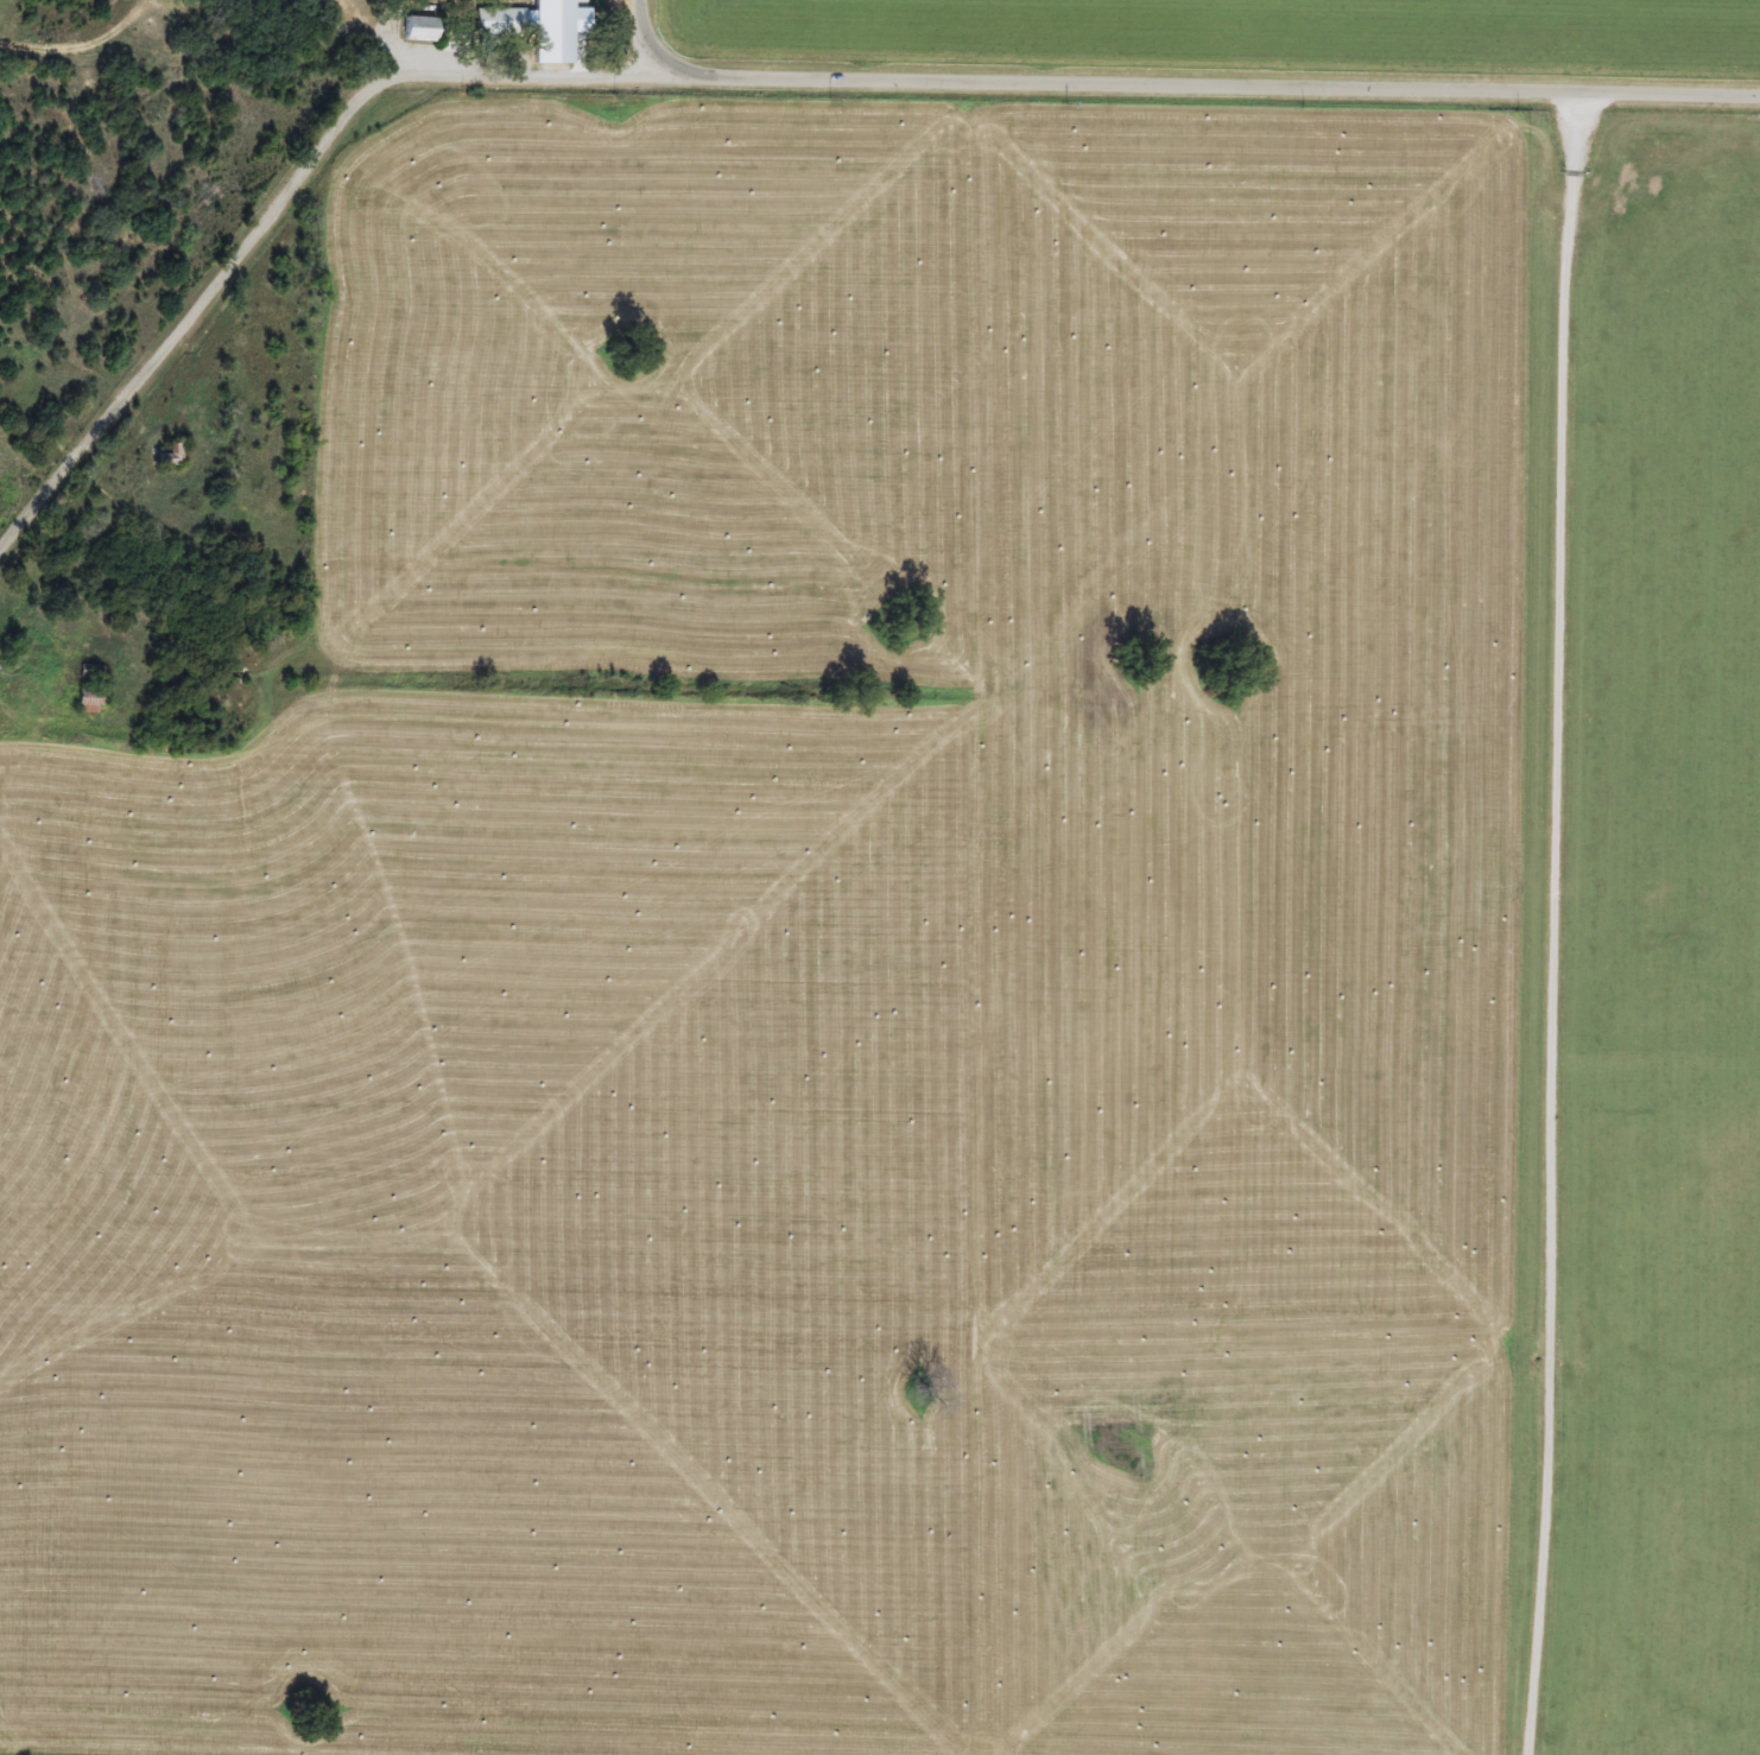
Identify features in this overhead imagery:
building: (505, 23)
building: (422, 30)
road: (646, 38)
road: (1203, 88)
road: (272, 209)
building: (93, 690)

